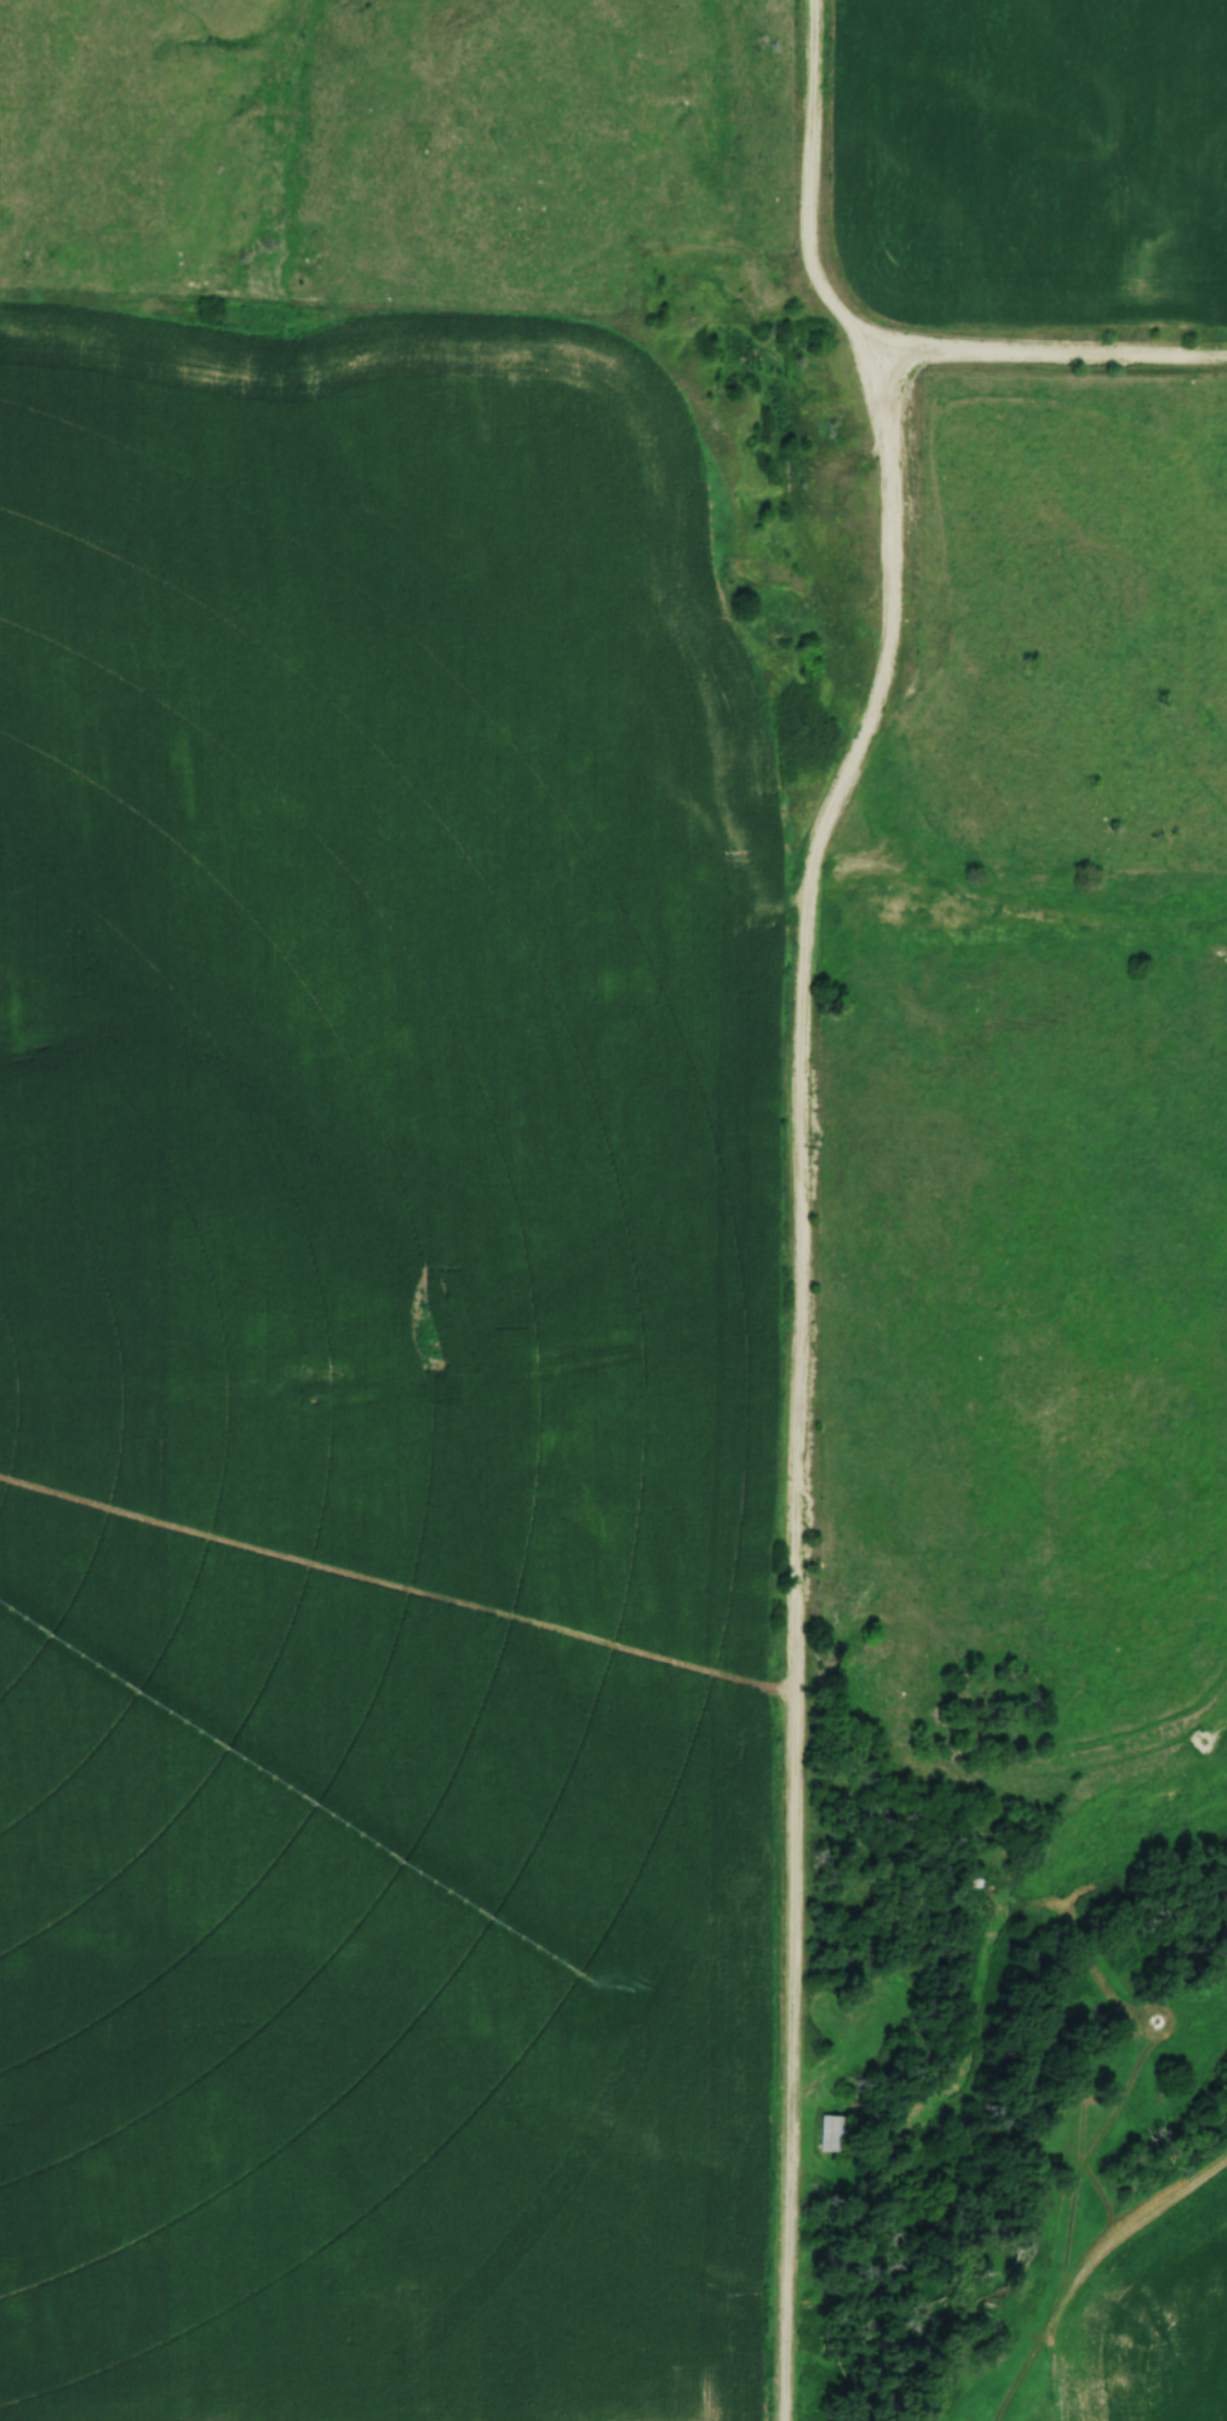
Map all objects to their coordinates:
road: (1033, 360)
road: (901, 390)
road: (802, 1193)
building: (832, 2135)

